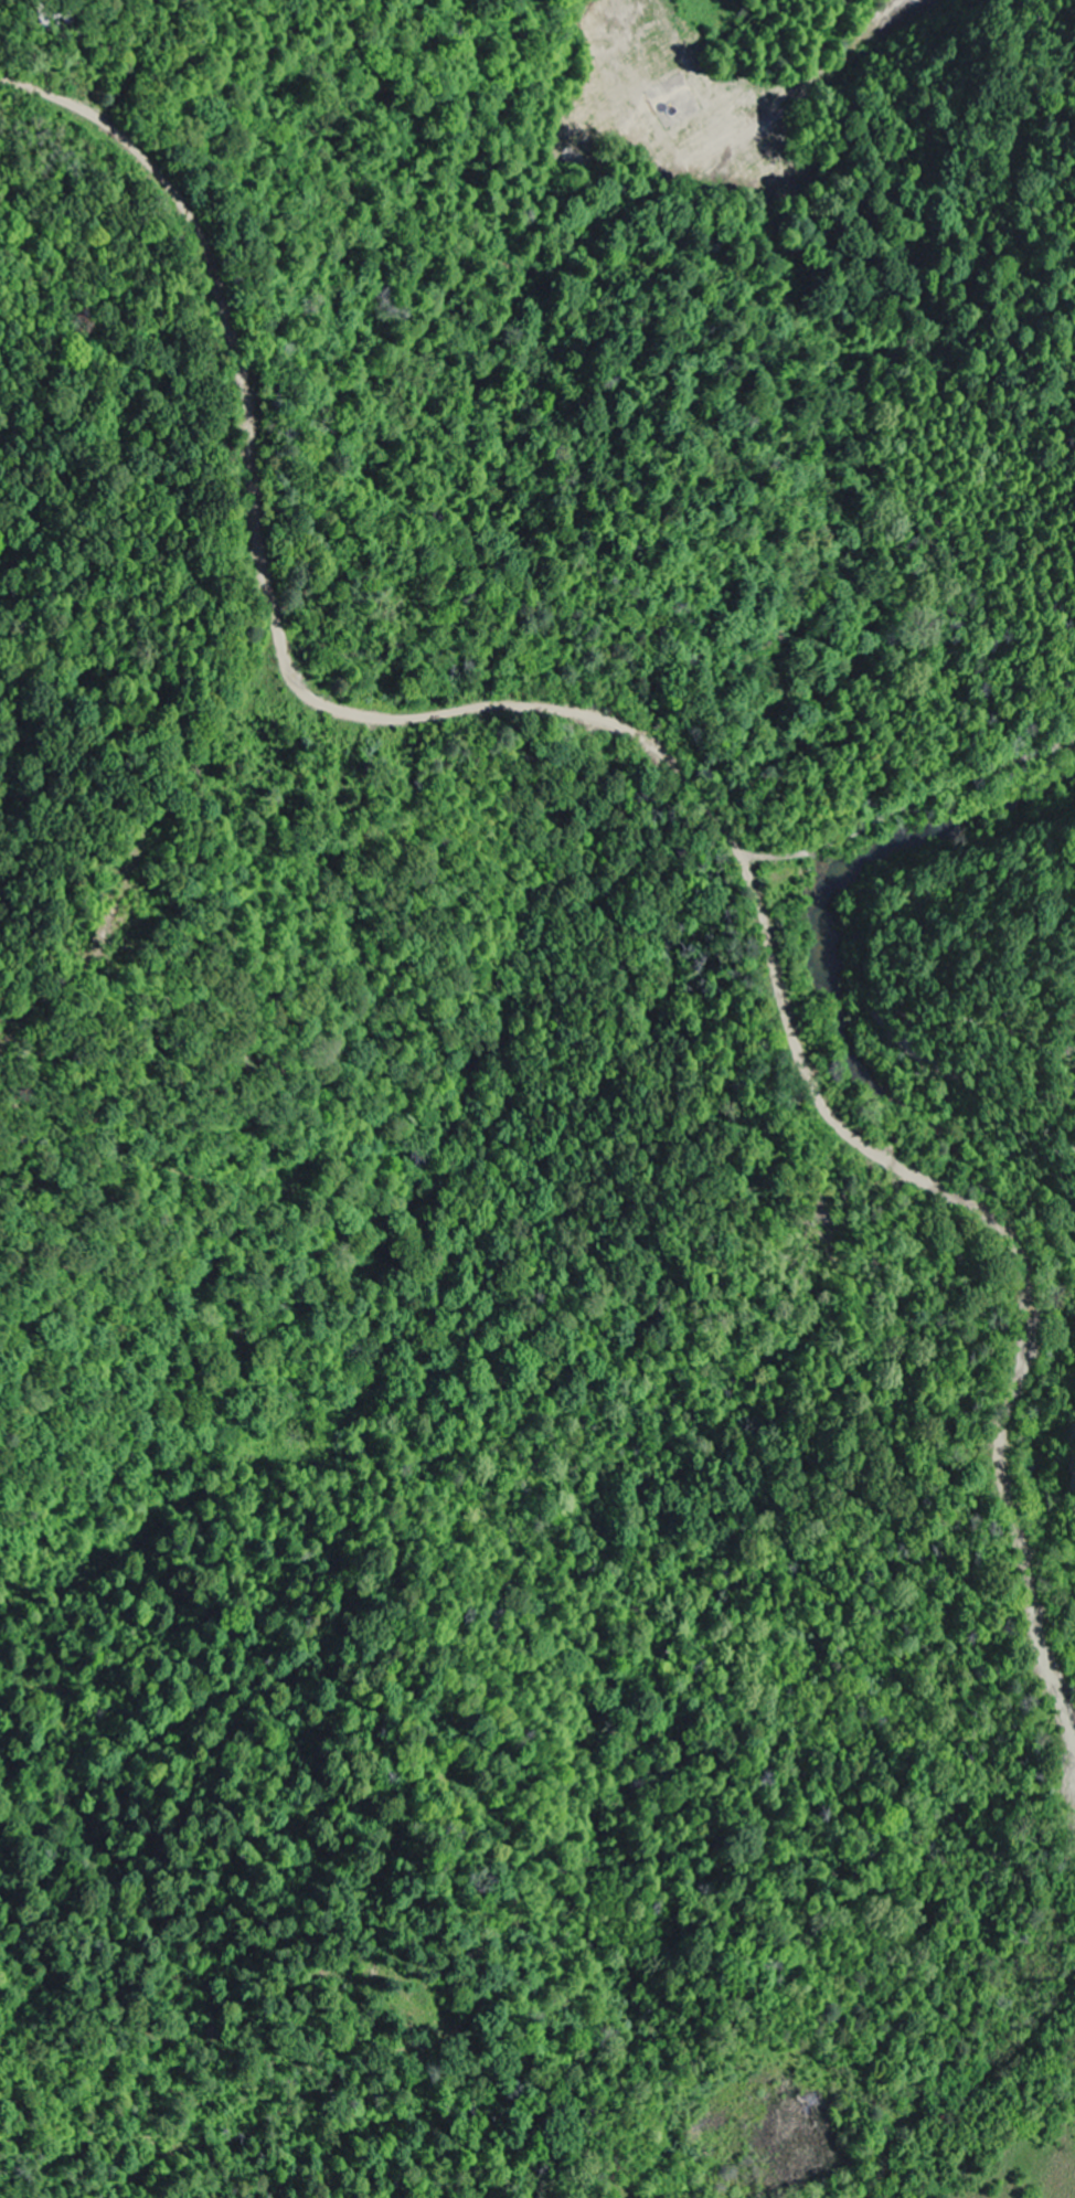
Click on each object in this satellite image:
road: (140, 158)
road: (365, 513)
road: (945, 1127)

